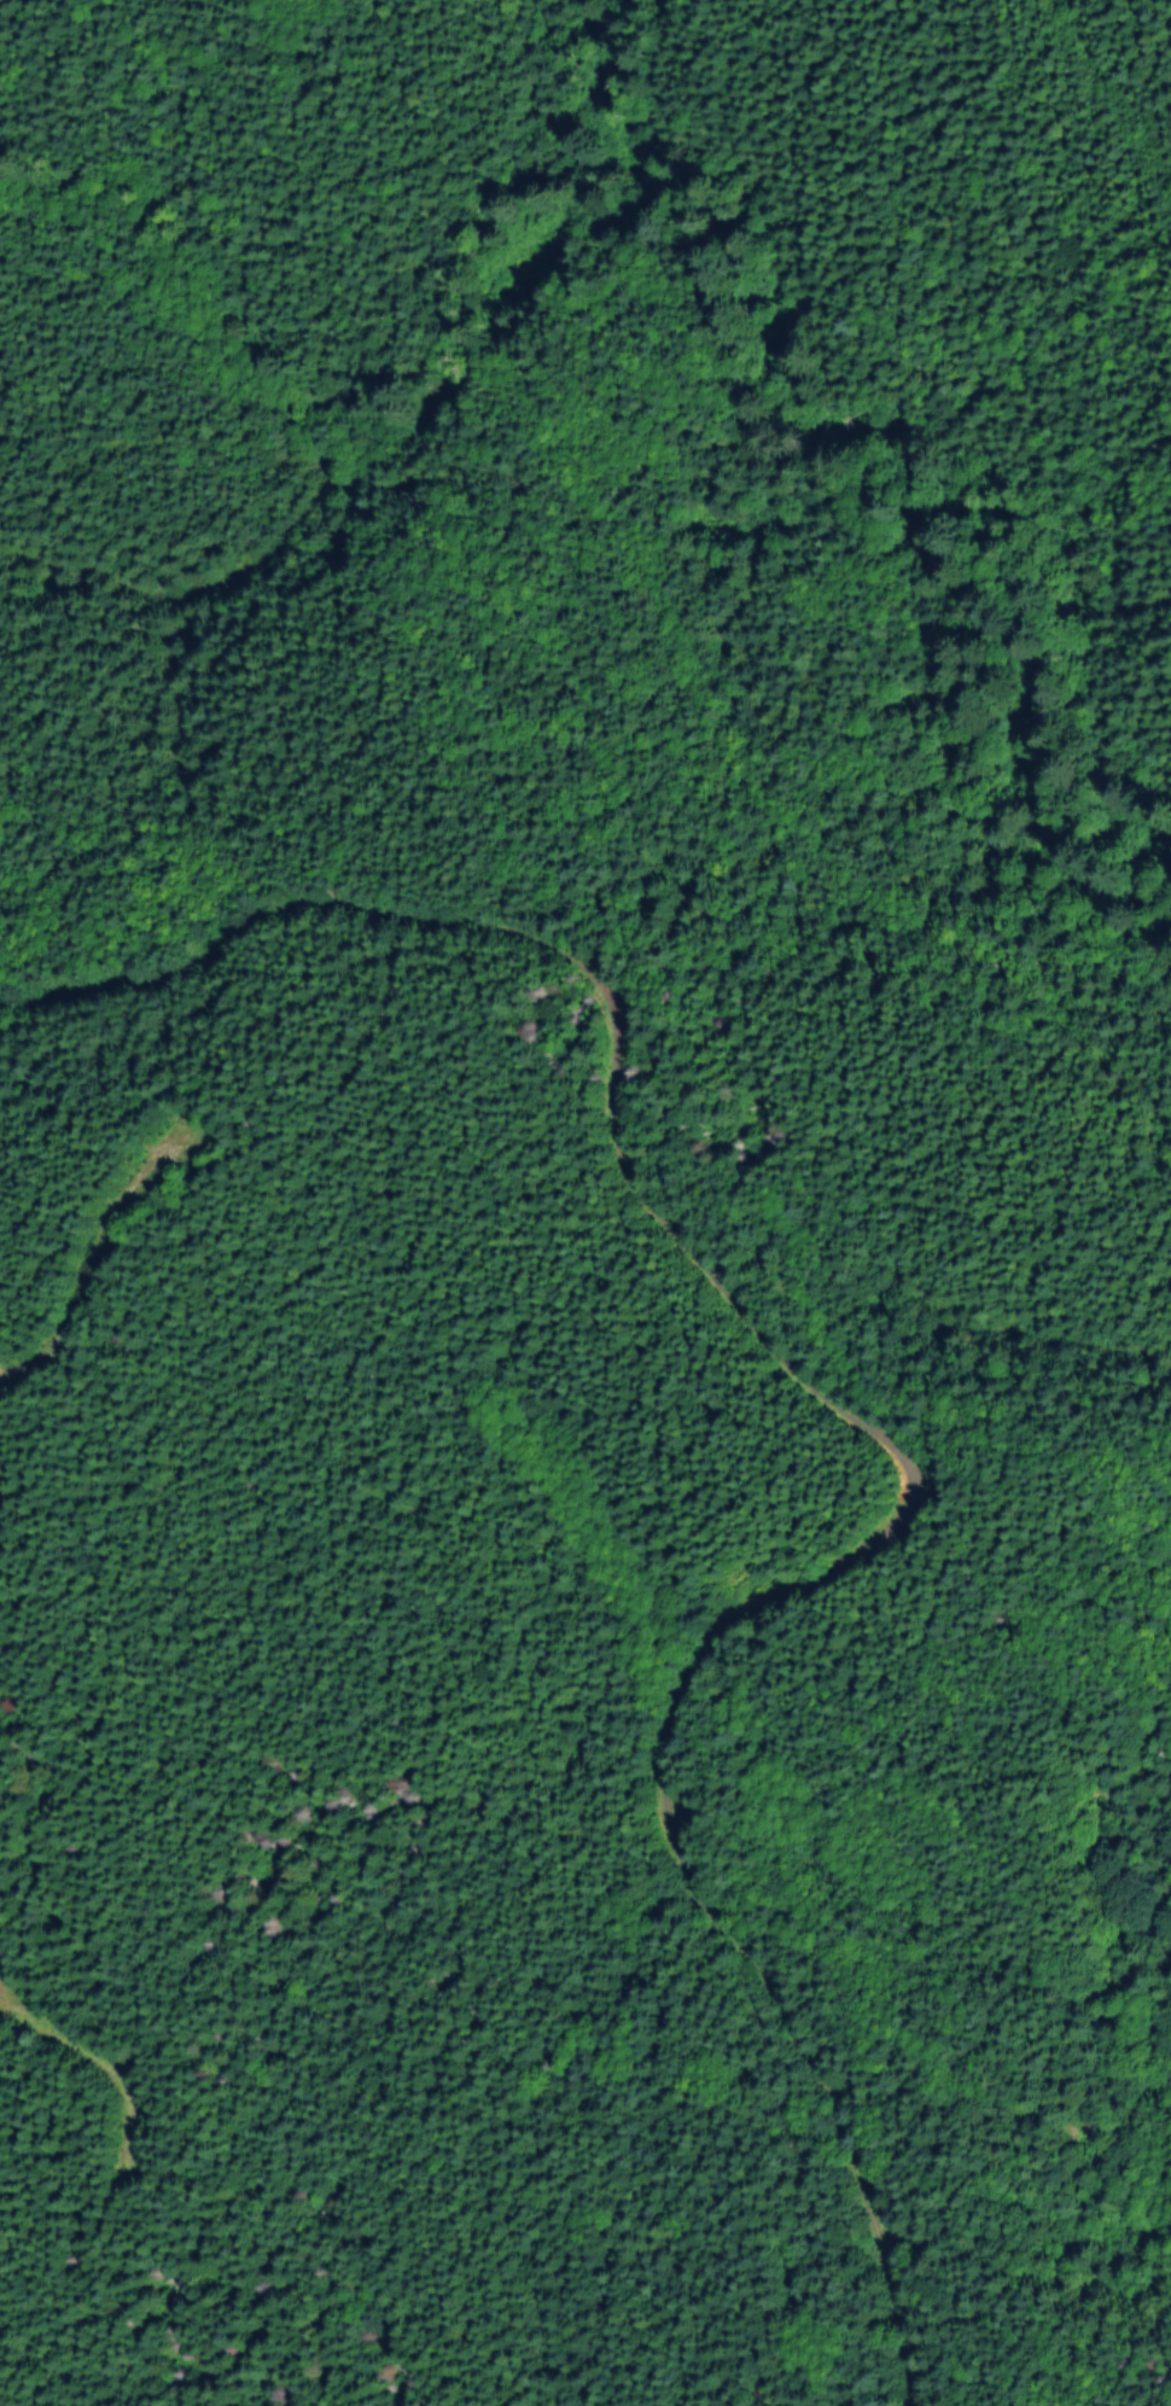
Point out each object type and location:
road: (854, 1394)

